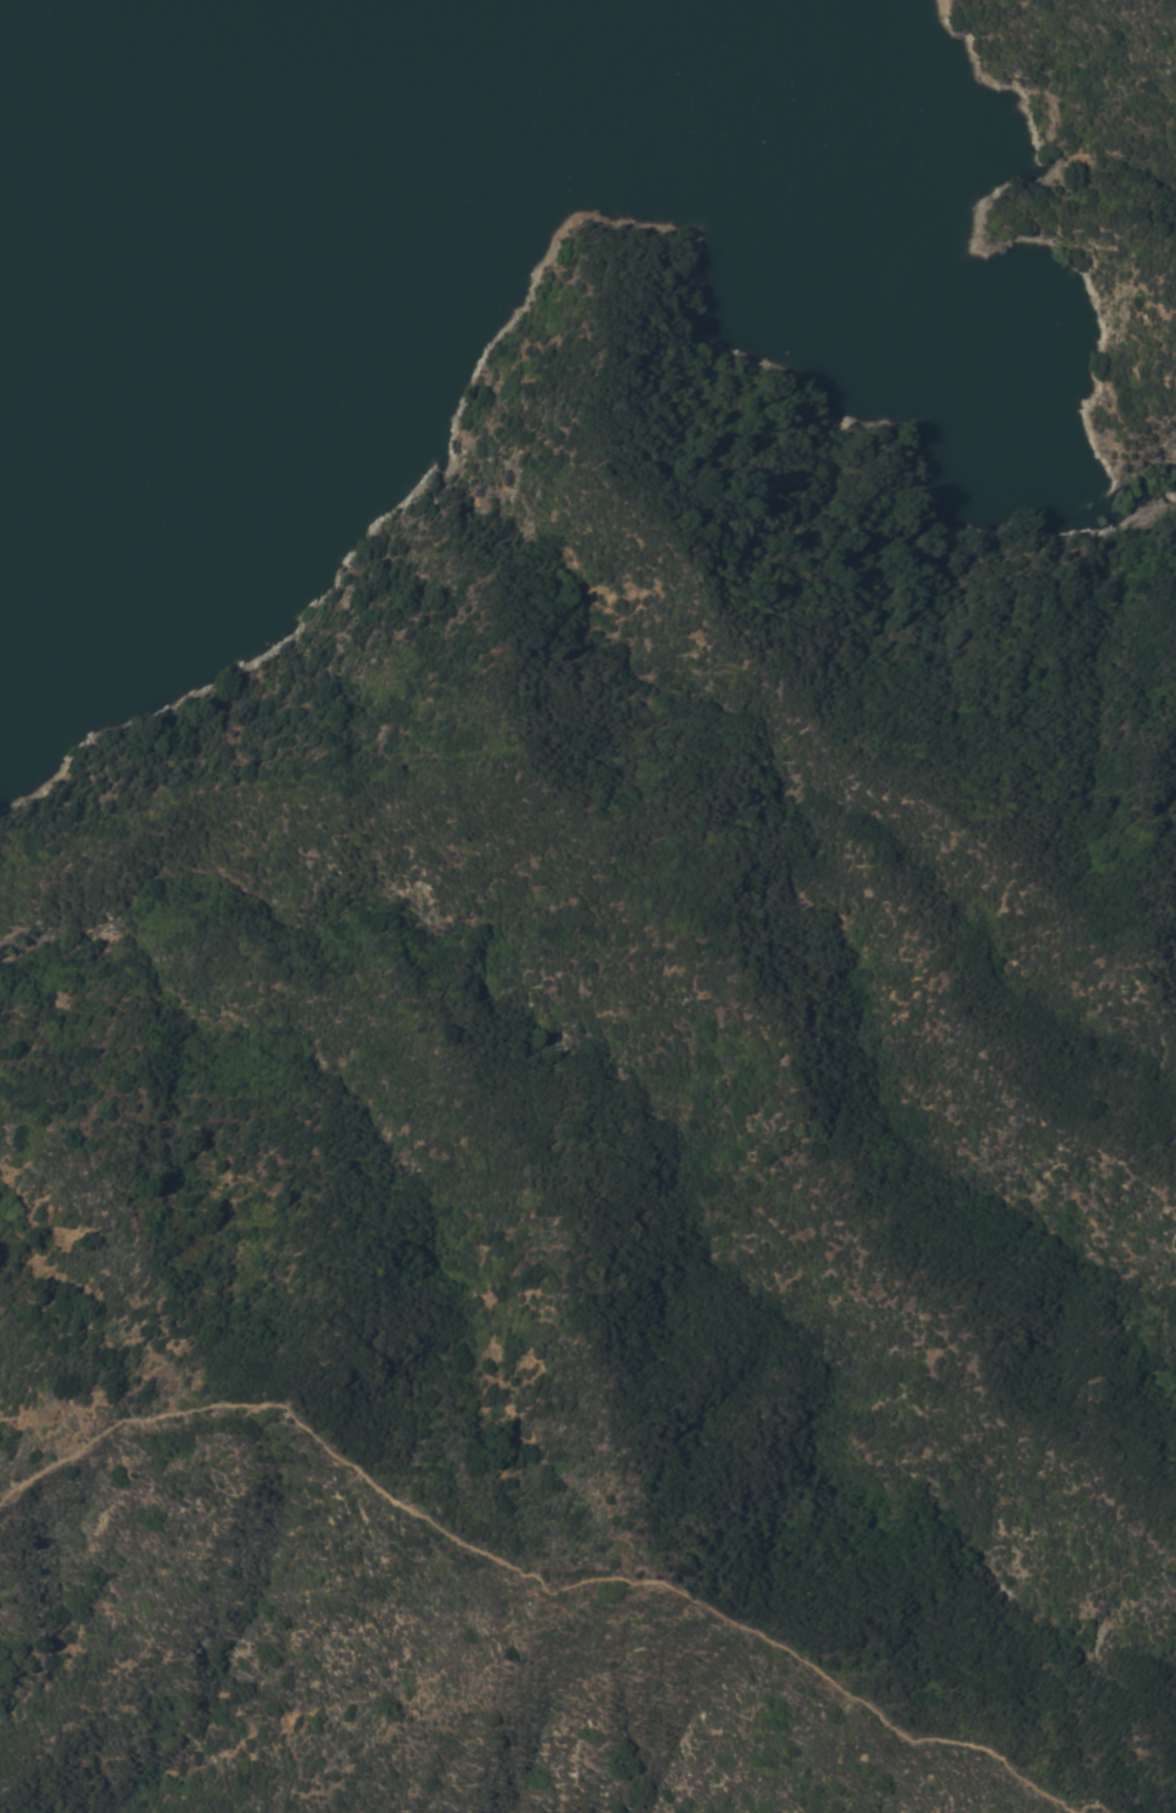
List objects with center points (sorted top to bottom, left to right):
river: (223, 138)

